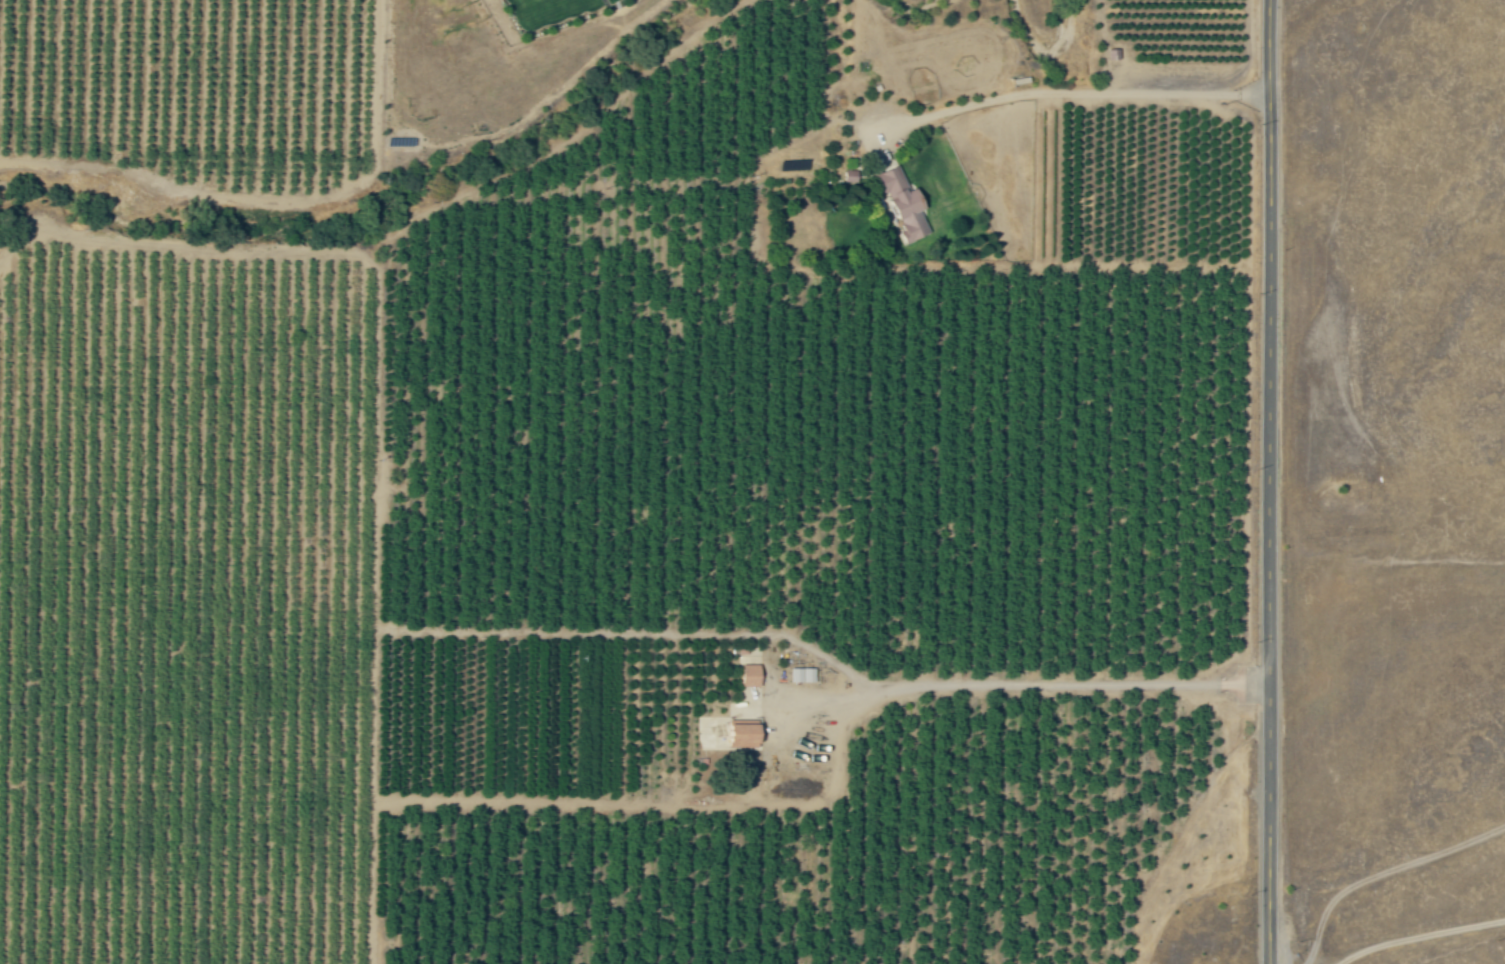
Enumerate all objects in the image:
road: (1082, 92)
building: (906, 203)
road: (1277, 481)
building: (803, 674)
building: (752, 675)
road: (1028, 685)
building: (747, 735)
road: (1421, 936)

